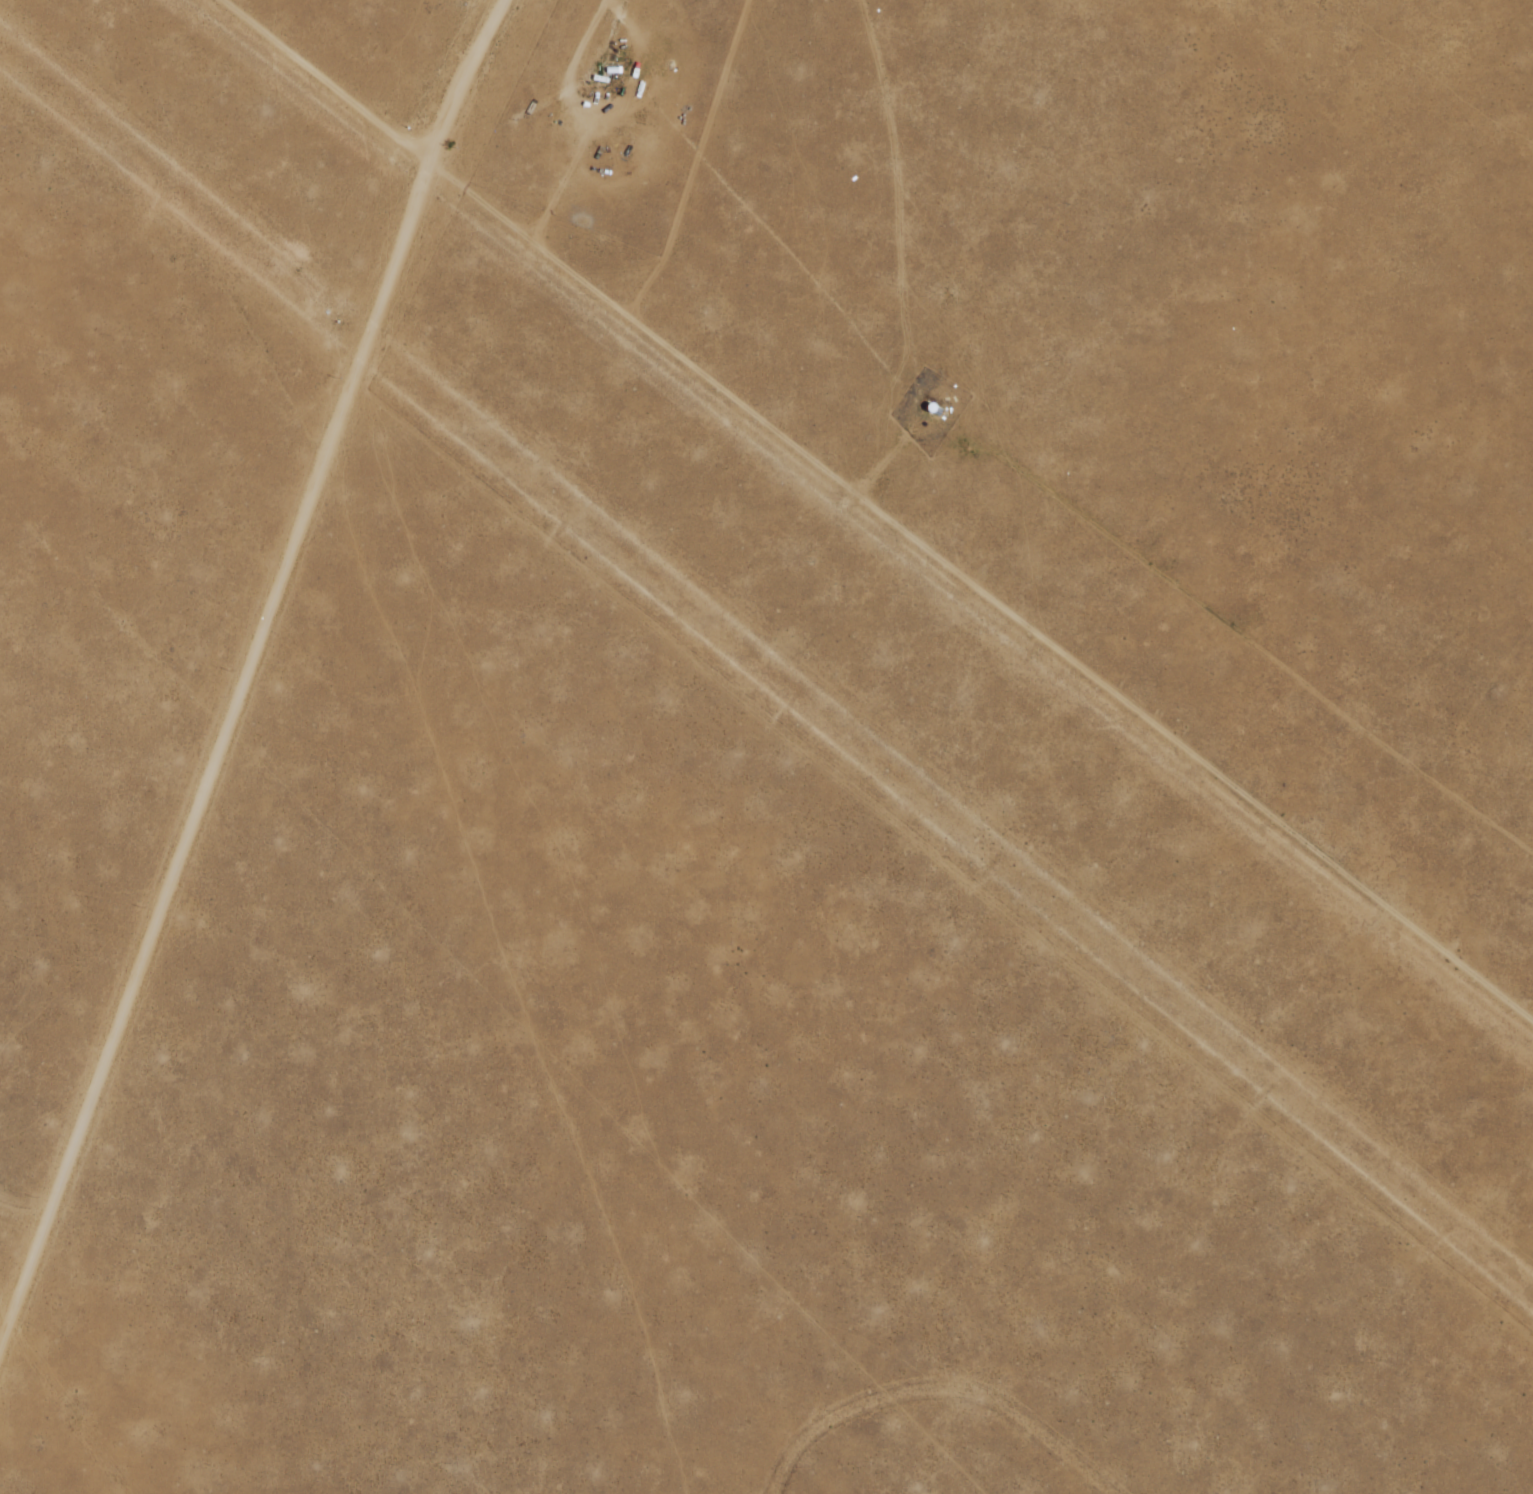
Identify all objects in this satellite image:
road: (862, 522)
road: (245, 662)
road: (766, 665)

